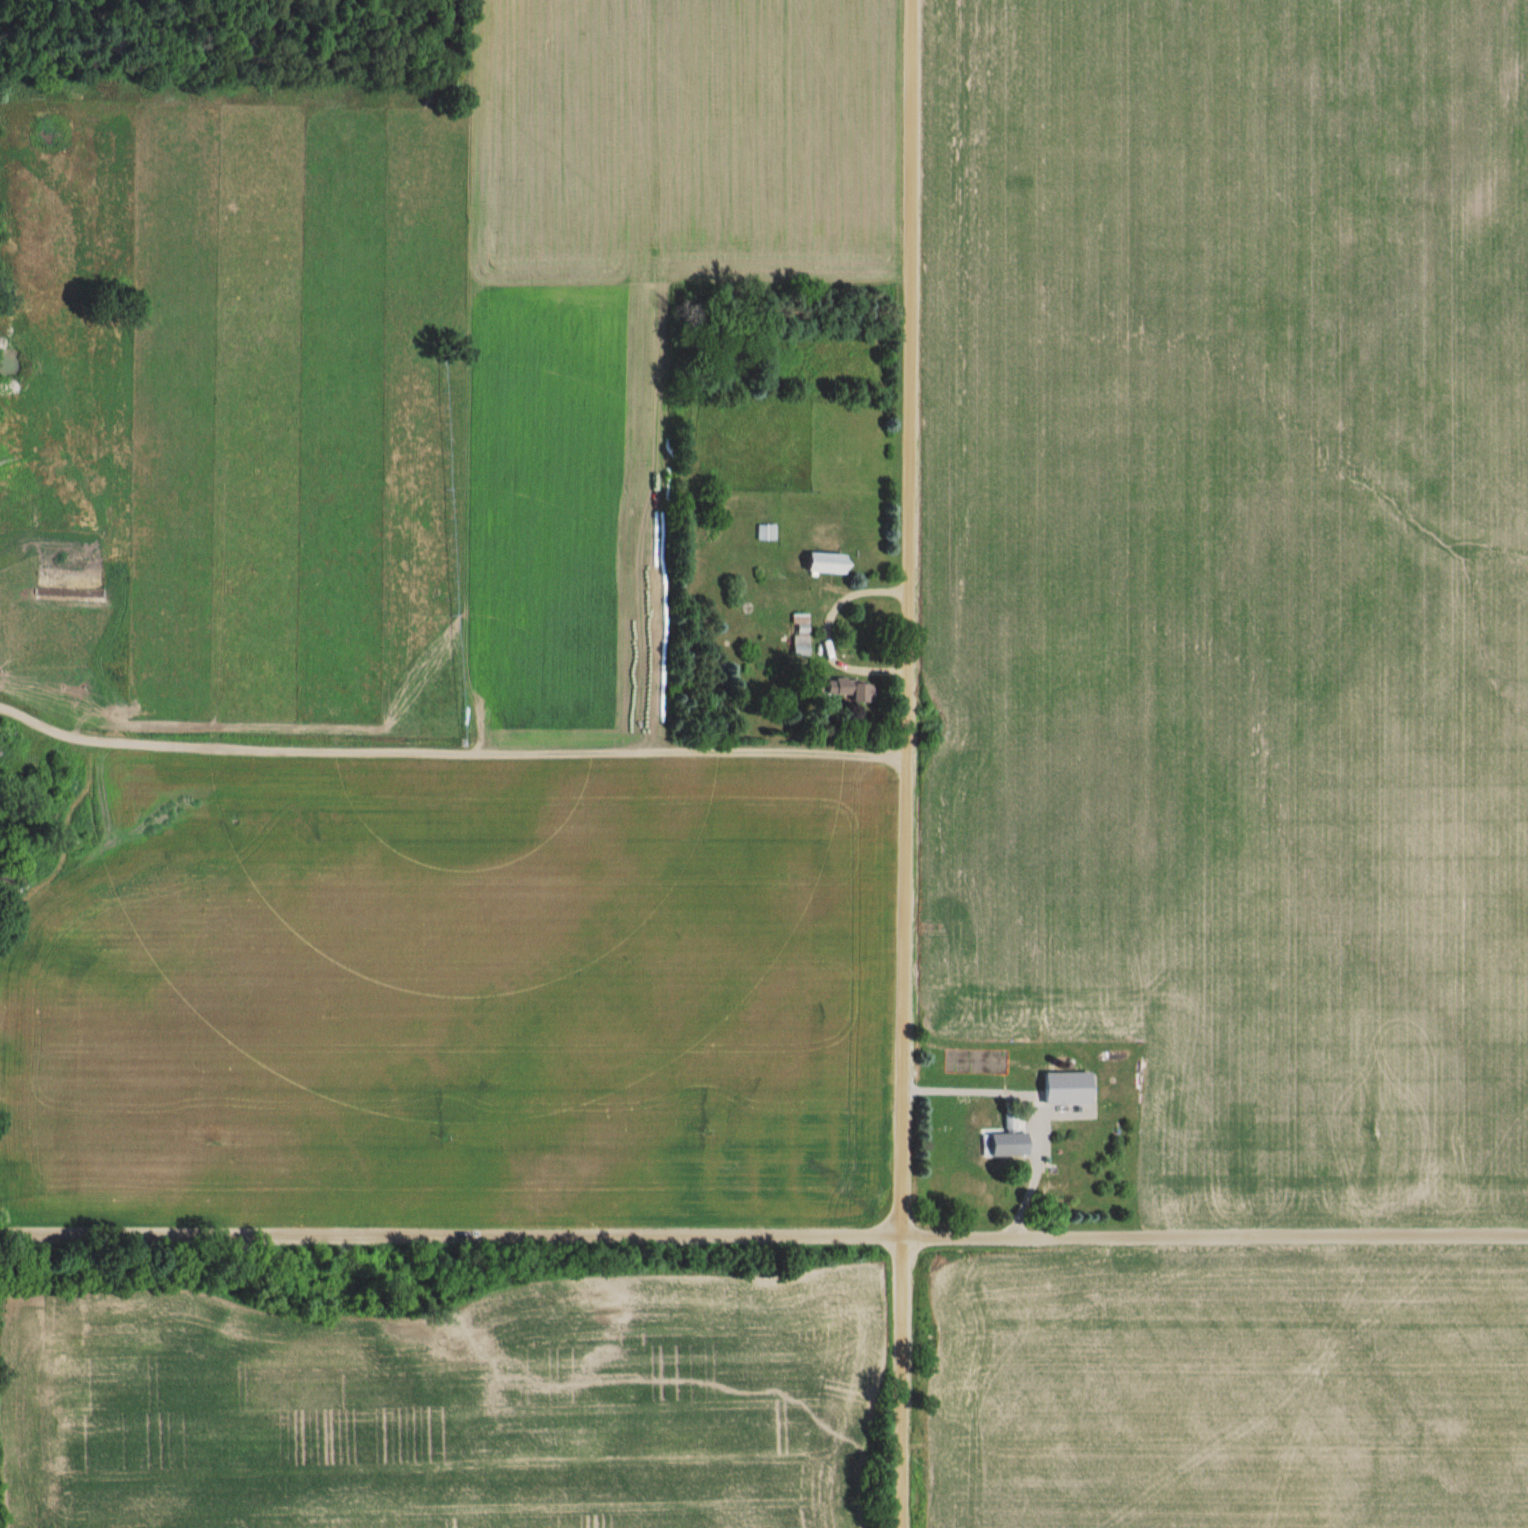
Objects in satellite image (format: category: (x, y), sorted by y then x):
building: (766, 533)
building: (826, 564)
building: (800, 635)
building: (853, 691)
road: (902, 764)
building: (1066, 1087)
road: (1023, 1103)
road: (763, 1239)

